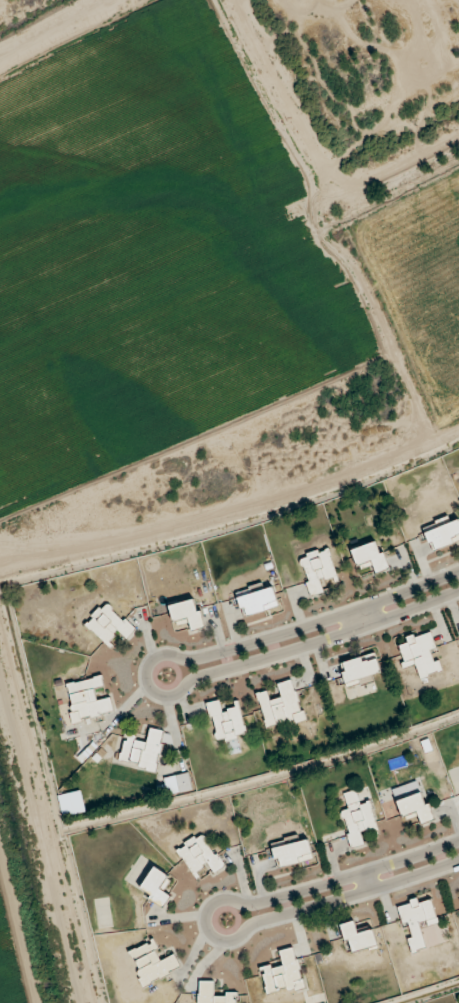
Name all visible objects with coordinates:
building: (443, 536)
building: (370, 558)
building: (317, 570)
building: (257, 602)
building: (187, 614)
building: (108, 624)
building: (421, 654)
building: (360, 670)
road: (145, 679)
building: (87, 700)
building: (281, 706)
building: (226, 722)
building: (142, 750)
building: (178, 784)
building: (66, 805)
building: (415, 808)
building: (357, 819)
building: (292, 854)
building: (199, 855)
building: (156, 887)
building: (417, 922)
road: (206, 924)
building: (358, 938)
building: (152, 963)
building: (283, 974)
building: (214, 994)

